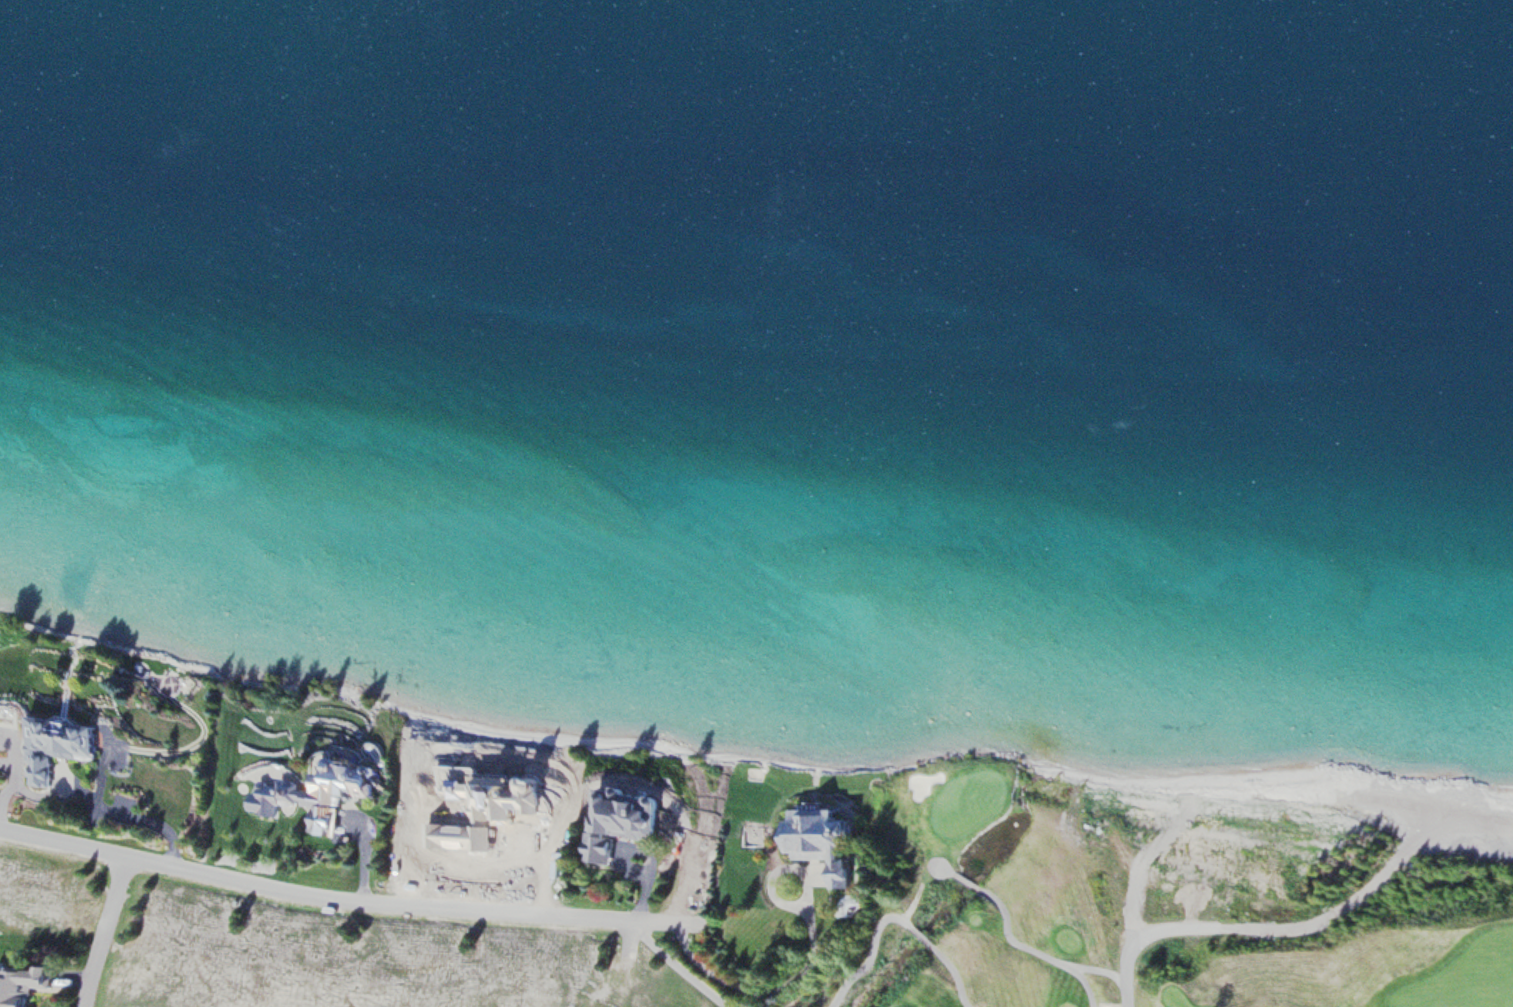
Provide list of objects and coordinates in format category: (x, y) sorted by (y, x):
building: (62, 740)
building: (34, 771)
building: (333, 793)
park: (971, 801)
building: (620, 822)
building: (827, 843)
road: (949, 866)
road: (969, 876)
road: (1139, 879)
road: (773, 891)
road: (348, 902)
park: (1143, 905)
road: (896, 917)
road: (1262, 927)
road: (93, 931)
road: (628, 938)
road: (1037, 948)
road: (676, 963)
road: (1100, 966)
building: (24, 984)
road: (770, 984)

